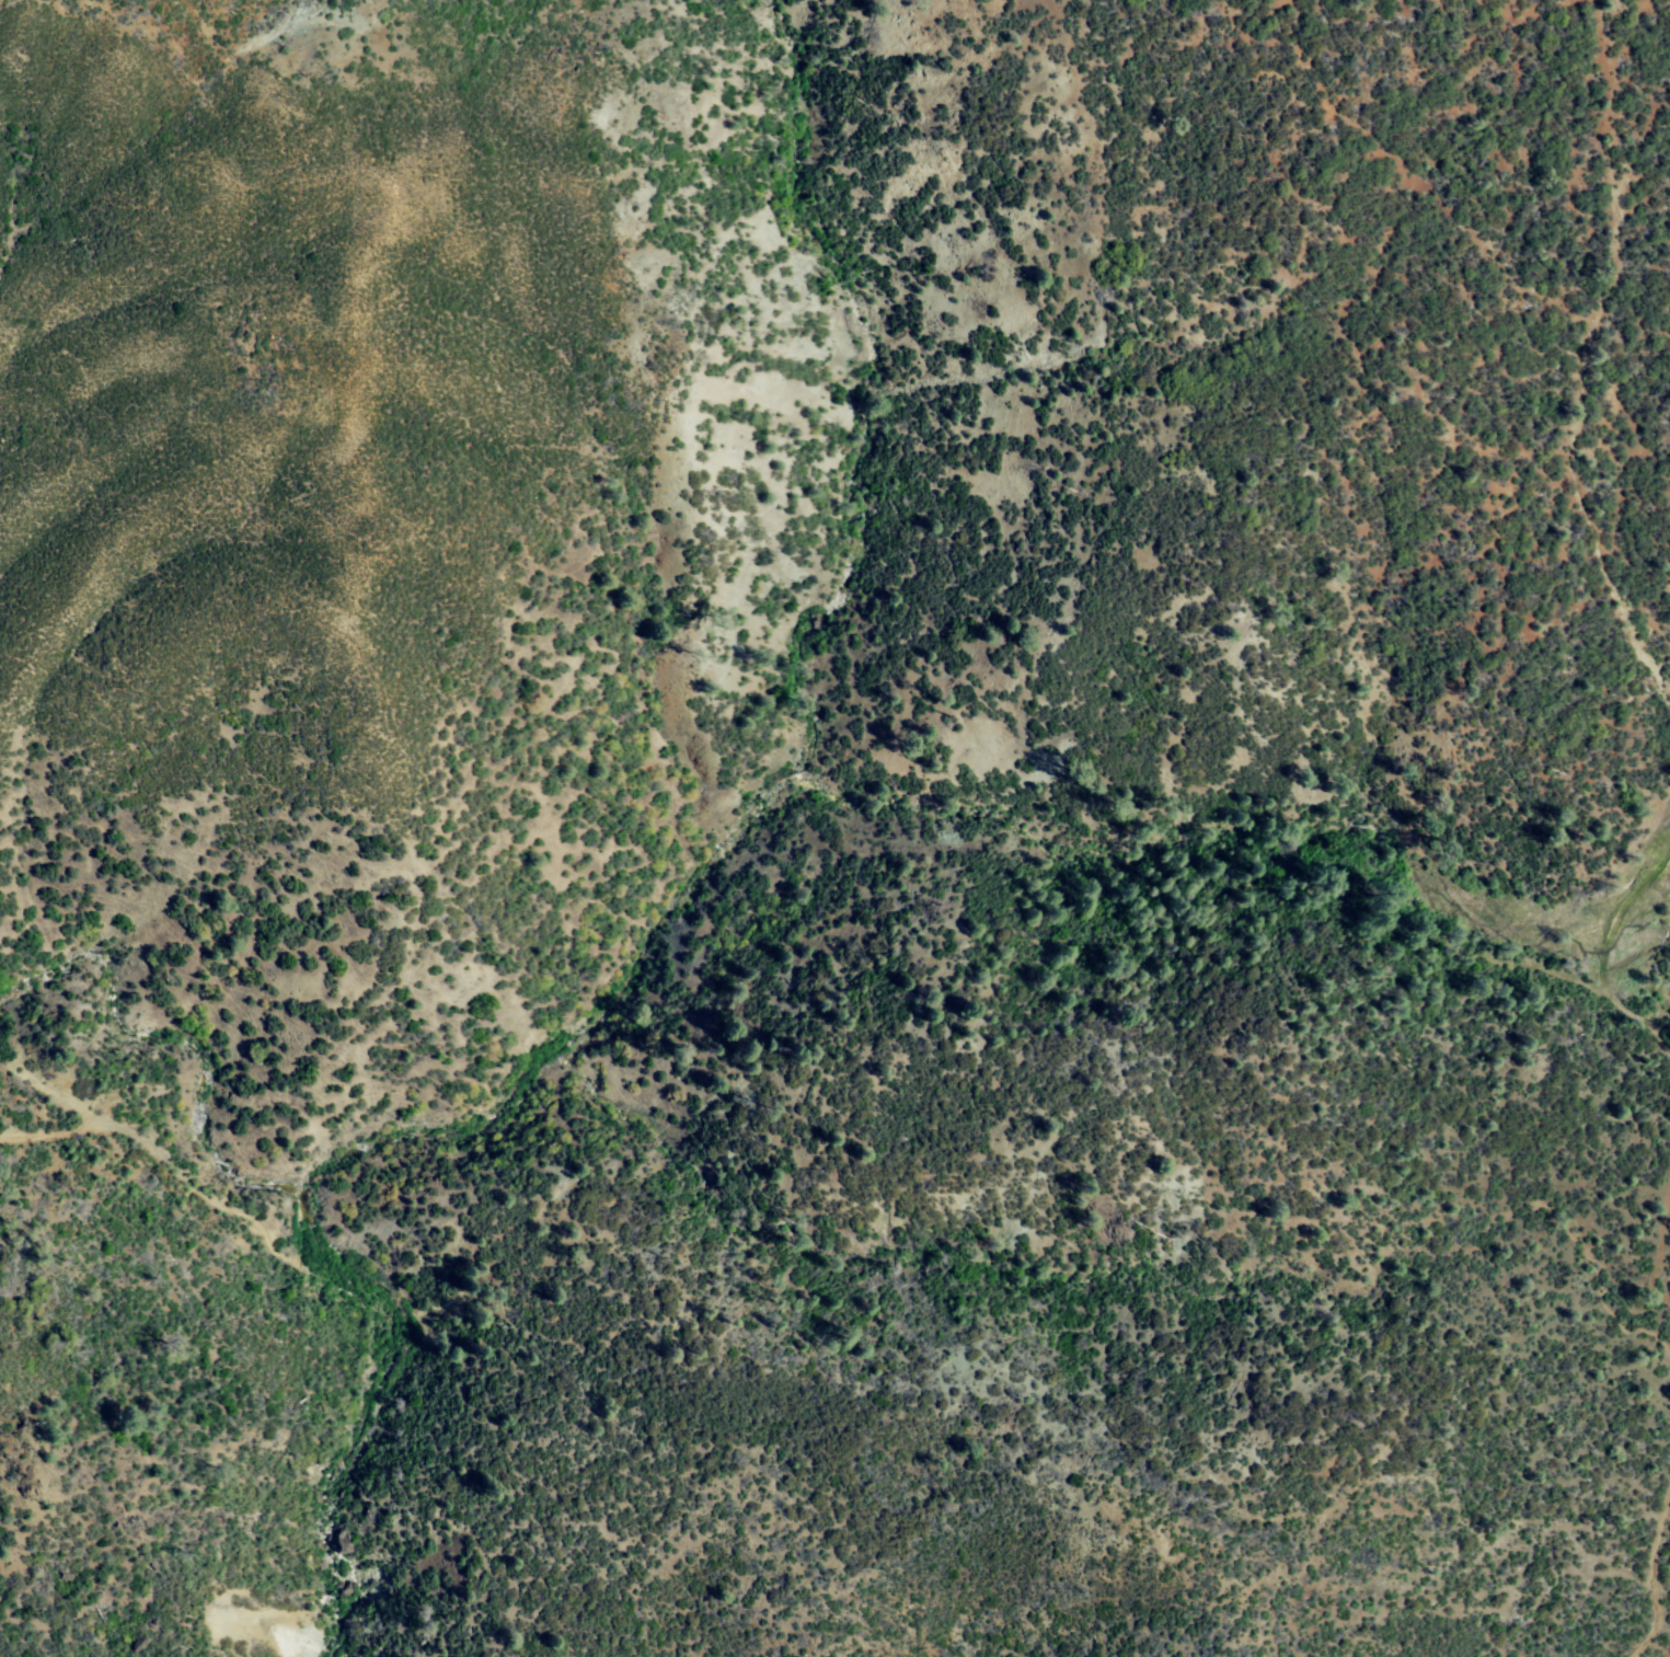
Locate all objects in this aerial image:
road: (1651, 1576)

